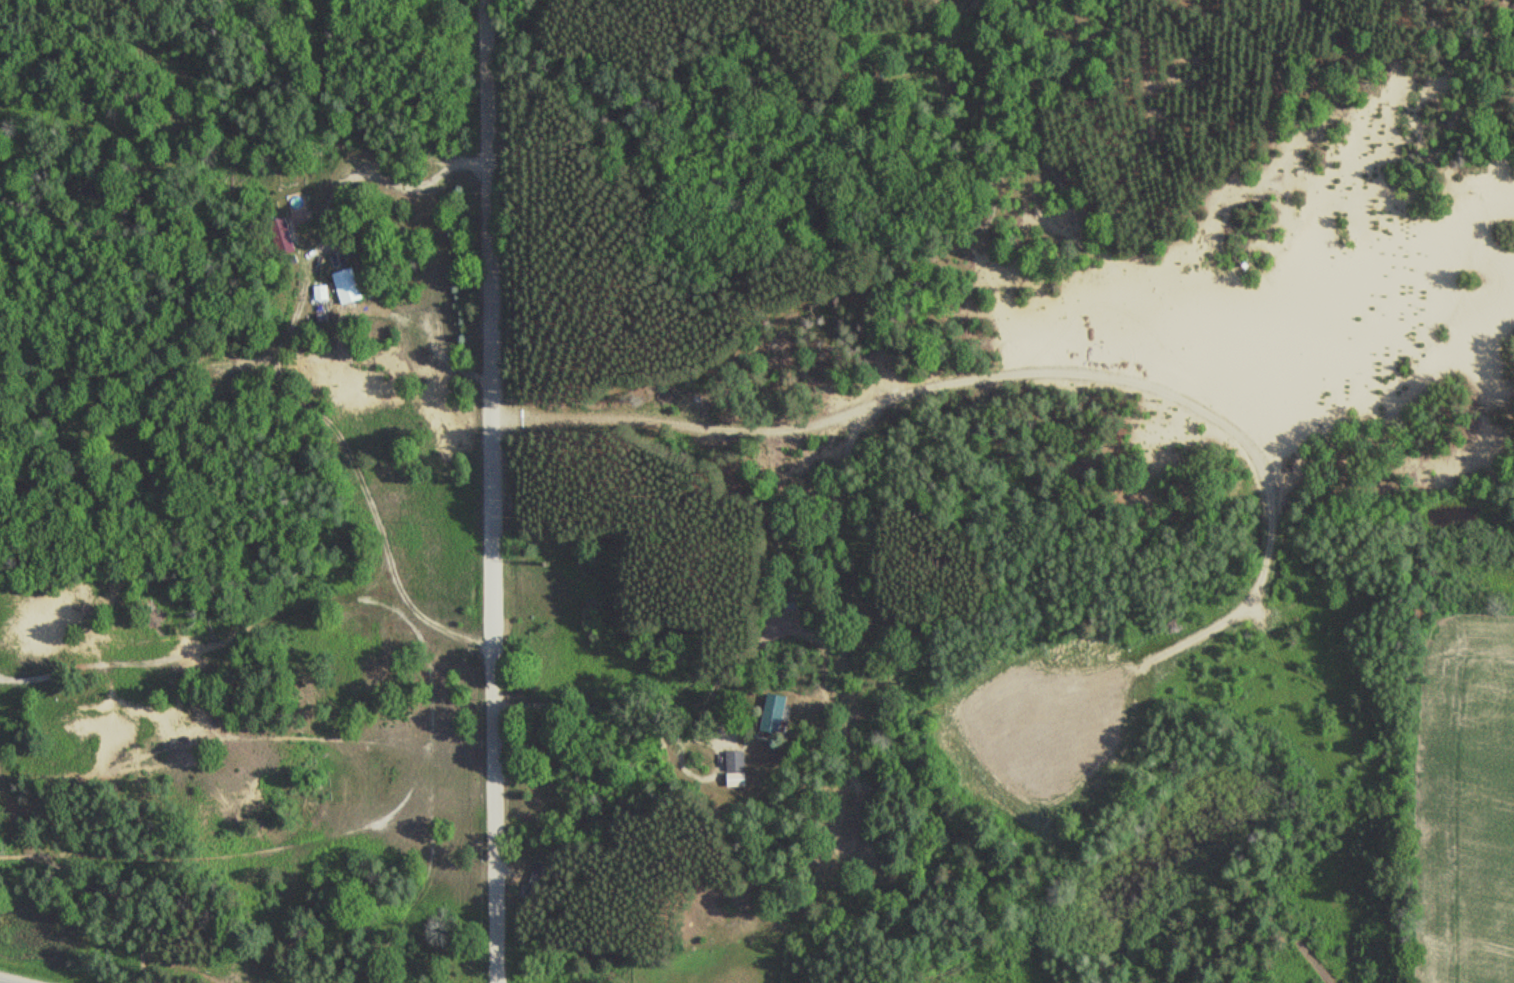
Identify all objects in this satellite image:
building: (348, 286)
building: (321, 292)
road: (491, 491)
building: (777, 712)
building: (737, 768)
building: (535, 880)

